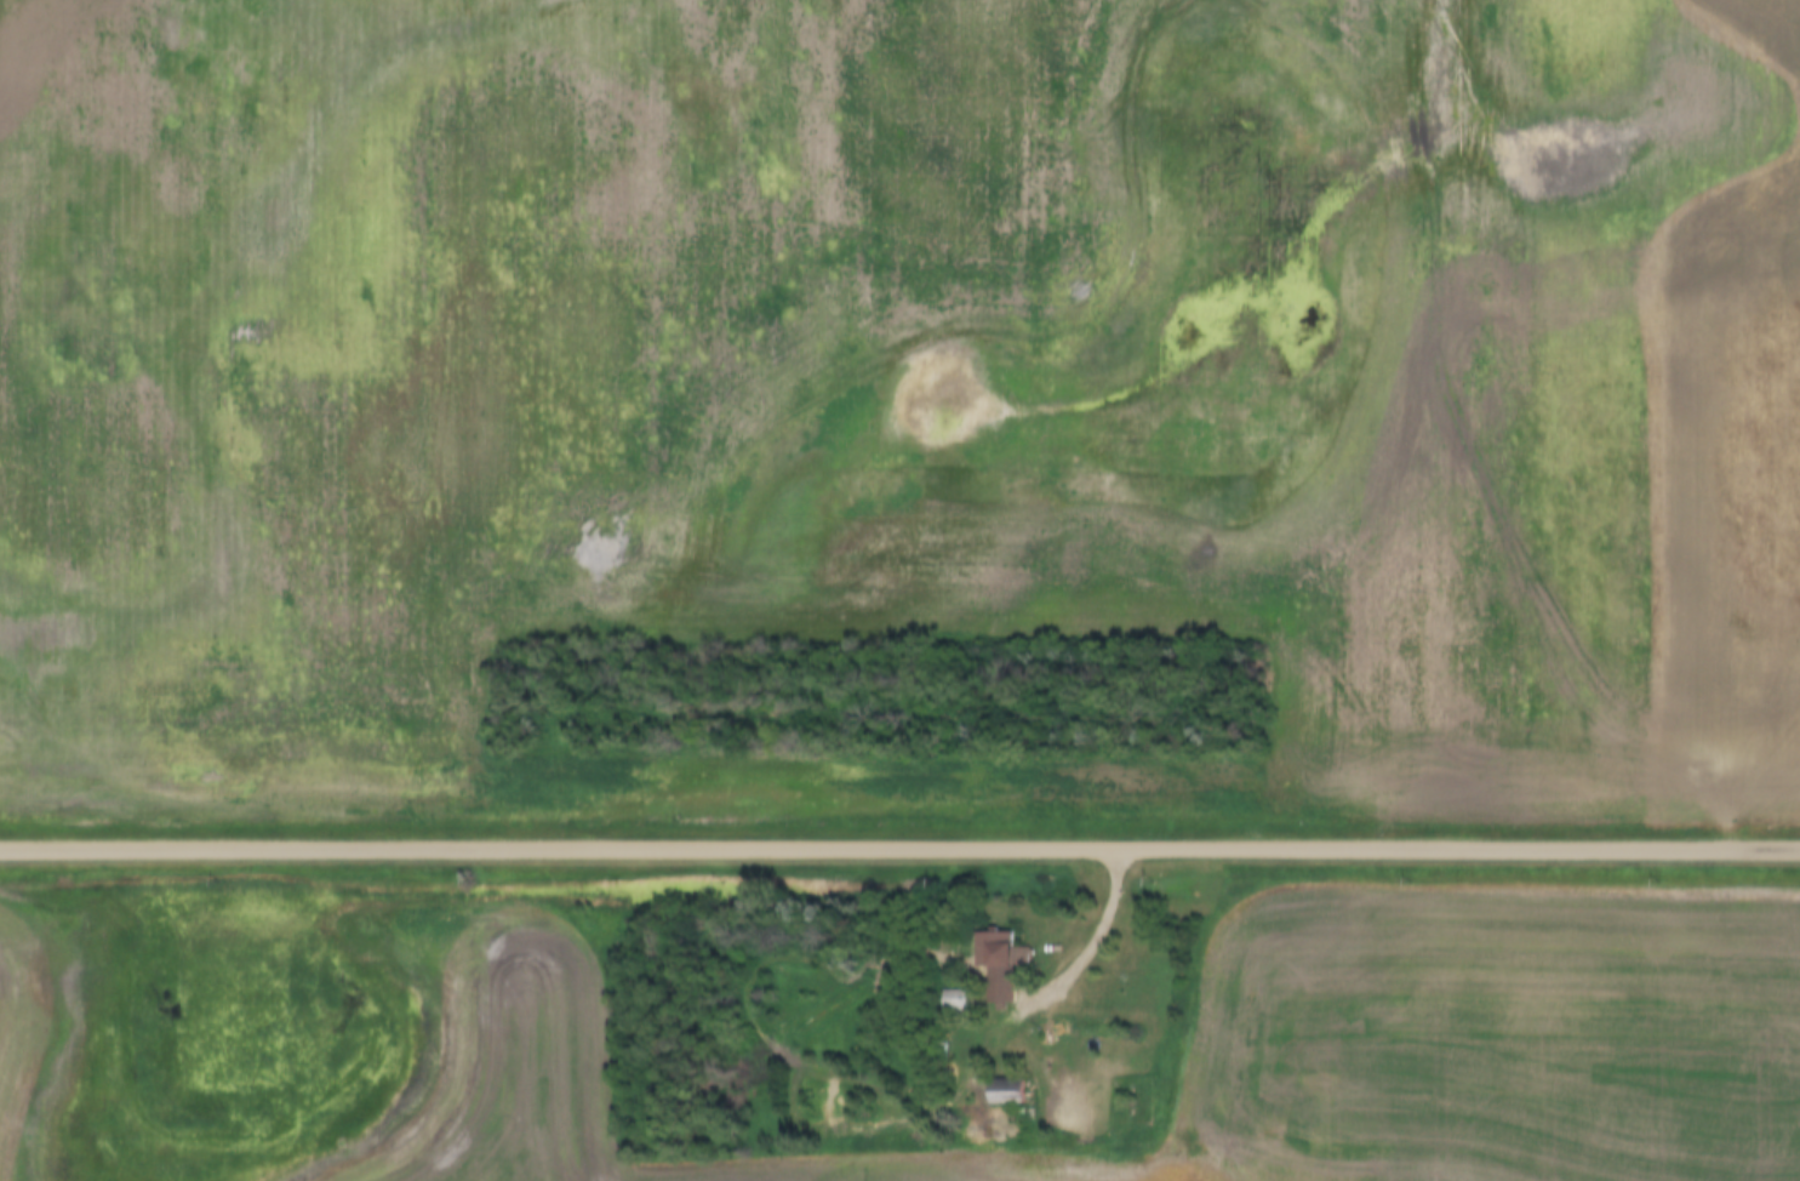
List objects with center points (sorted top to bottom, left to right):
road: (899, 846)
building: (1008, 959)
road: (1057, 985)
building: (954, 1002)
building: (1006, 1092)

